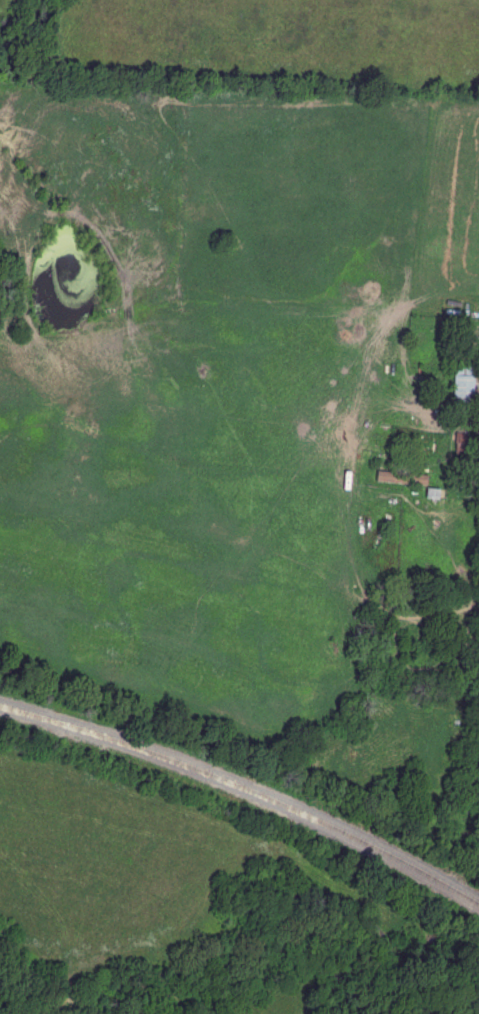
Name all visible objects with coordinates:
crop: (4, 6)
crop: (275, 50)
crop: (213, 383)
building: (462, 384)
building: (400, 477)
building: (431, 493)
building: (378, 531)
building: (472, 661)
railway: (245, 789)

